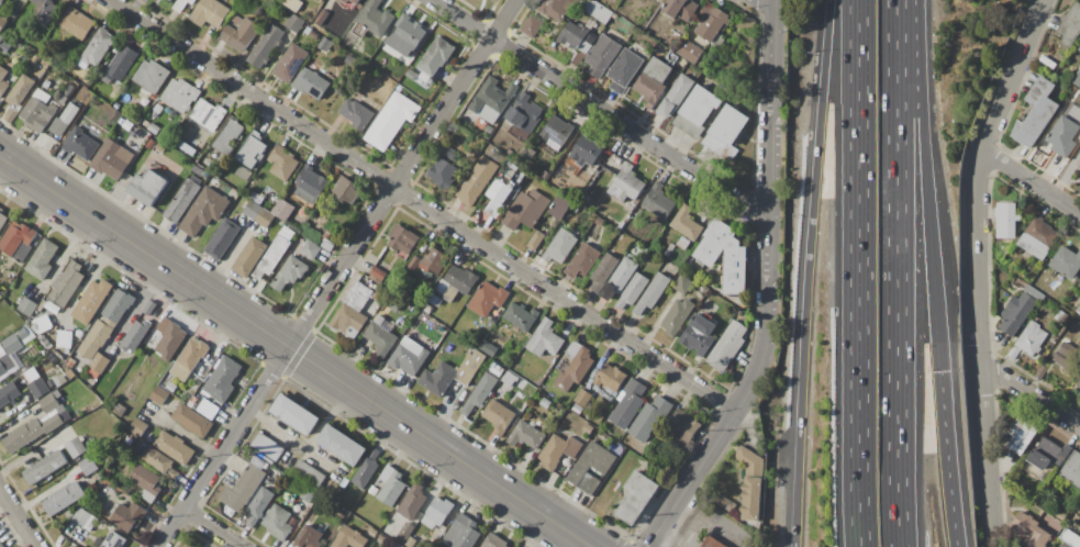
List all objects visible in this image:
building: (169, 0)
building: (170, 0)
building: (489, 0)
building: (660, 0)
building: (318, 1)
building: (345, 1)
building: (356, 1)
building: (1, 2)
road: (771, 2)
building: (181, 3)
building: (292, 4)
building: (557, 8)
building: (680, 9)
building: (597, 10)
building: (44, 11)
building: (209, 13)
building: (322, 16)
building: (376, 18)
road: (505, 19)
building: (2, 22)
building: (75, 23)
building: (294, 23)
building: (532, 25)
building: (713, 25)
building: (1070, 25)
building: (238, 33)
building: (405, 36)
building: (1, 37)
building: (578, 40)
building: (325, 44)
building: (265, 46)
building: (4, 47)
building: (97, 47)
building: (1079, 48)
building: (689, 51)
building: (1079, 52)
building: (436, 55)
building: (602, 55)
building: (349, 59)
building: (290, 63)
building: (119, 64)
building: (624, 68)
building: (411, 74)
road: (1007, 74)
building: (151, 76)
building: (1077, 79)
building: (2, 81)
building: (652, 81)
building: (311, 83)
building: (46, 85)
building: (21, 90)
building: (67, 90)
building: (1077, 92)
building: (179, 94)
building: (676, 96)
building: (62, 100)
building: (492, 100)
road: (772, 104)
building: (115, 105)
road: (602, 105)
building: (157, 109)
building: (37, 111)
building: (695, 111)
building: (99, 113)
building: (356, 113)
building: (525, 113)
building: (207, 114)
building: (1036, 114)
building: (64, 120)
building: (391, 121)
building: (145, 123)
building: (127, 124)
building: (485, 125)
building: (153, 129)
building: (556, 132)
building: (725, 132)
building: (162, 133)
building: (94, 134)
building: (229, 136)
building: (1064, 137)
building: (80, 144)
building: (151, 144)
building: (187, 148)
building: (252, 150)
building: (586, 150)
building: (530, 154)
building: (452, 155)
building: (111, 160)
building: (282, 163)
building: (1079, 163)
building: (198, 170)
building: (442, 172)
building: (243, 174)
building: (544, 175)
building: (477, 180)
road: (1029, 181)
building: (310, 183)
building: (626, 185)
road: (925, 186)
building: (147, 187)
building: (347, 189)
building: (500, 193)
building: (255, 197)
building: (183, 199)
building: (658, 202)
road: (424, 205)
building: (560, 206)
building: (630, 208)
building: (526, 209)
building: (253, 210)
building: (282, 210)
building: (203, 211)
building: (265, 217)
building: (2, 219)
building: (1007, 220)
building: (599, 221)
building: (686, 223)
building: (287, 233)
building: (327, 234)
building: (16, 237)
building: (222, 238)
building: (402, 238)
building: (1038, 238)
building: (535, 239)
building: (682, 243)
building: (327, 246)
building: (560, 246)
building: (657, 247)
building: (310, 249)
building: (669, 249)
building: (725, 255)
building: (249, 257)
building: (271, 257)
building: (42, 259)
building: (433, 260)
building: (582, 260)
building: (1067, 263)
building: (603, 271)
building: (290, 272)
building: (377, 272)
road: (811, 272)
road: (857, 273)
road: (895, 273)
building: (620, 278)
building: (458, 281)
building: (66, 284)
building: (682, 284)
building: (633, 290)
road: (324, 291)
building: (653, 292)
building: (1034, 292)
building: (358, 295)
building: (488, 299)
building: (91, 301)
building: (119, 305)
building: (27, 308)
building: (148, 308)
building: (426, 309)
building: (1078, 310)
building: (1016, 313)
building: (521, 316)
building: (677, 316)
building: (347, 319)
building: (42, 324)
road: (976, 326)
building: (1079, 333)
building: (135, 335)
building: (380, 335)
building: (698, 335)
building: (64, 338)
building: (169, 338)
building: (1032, 338)
building: (94, 339)
building: (545, 339)
building: (12, 345)
building: (727, 346)
building: (488, 348)
building: (575, 349)
road: (294, 353)
building: (409, 356)
building: (189, 358)
building: (1069, 358)
building: (100, 362)
building: (2, 369)
building: (575, 371)
building: (452, 373)
building: (611, 377)
building: (509, 378)
building: (222, 379)
building: (59, 380)
building: (51, 382)
building: (36, 383)
building: (1079, 384)
building: (526, 387)
road: (745, 391)
building: (9, 393)
building: (480, 393)
building: (159, 395)
road: (1028, 395)
building: (582, 398)
building: (545, 403)
building: (628, 403)
building: (203, 406)
building: (577, 409)
building: (120, 410)
building: (296, 414)
building: (499, 415)
building: (649, 417)
building: (191, 420)
building: (35, 426)
building: (138, 426)
building: (687, 427)
building: (588, 428)
building: (64, 431)
building: (525, 435)
building: (1022, 436)
building: (342, 445)
building: (174, 447)
building: (76, 448)
building: (267, 448)
building: (558, 451)
building: (1048, 454)
building: (244, 455)
road: (947, 459)
building: (159, 461)
building: (87, 465)
building: (45, 467)
building: (591, 467)
building: (1072, 468)
building: (366, 469)
building: (1033, 470)
building: (309, 475)
building: (146, 481)
building: (750, 482)
building: (344, 483)
building: (390, 485)
building: (243, 488)
building: (372, 490)
building: (307, 494)
building: (636, 496)
building: (63, 499)
building: (412, 502)
building: (725, 503)
building: (258, 505)
building: (439, 510)
building: (1061, 515)
building: (127, 516)
building: (310, 516)
road: (18, 517)
building: (83, 518)
building: (277, 522)
road: (988, 525)
road: (212, 527)
building: (1032, 531)
building: (372, 532)
building: (405, 532)
building: (463, 533)
building: (310, 537)
building: (349, 538)
building: (1069, 538)
building: (110, 540)
building: (382, 540)
building: (409, 542)
building: (493, 542)
road: (574, 543)
building: (712, 543)
building: (1, 545)
building: (396, 545)
building: (74, 546)
building: (186, 546)

